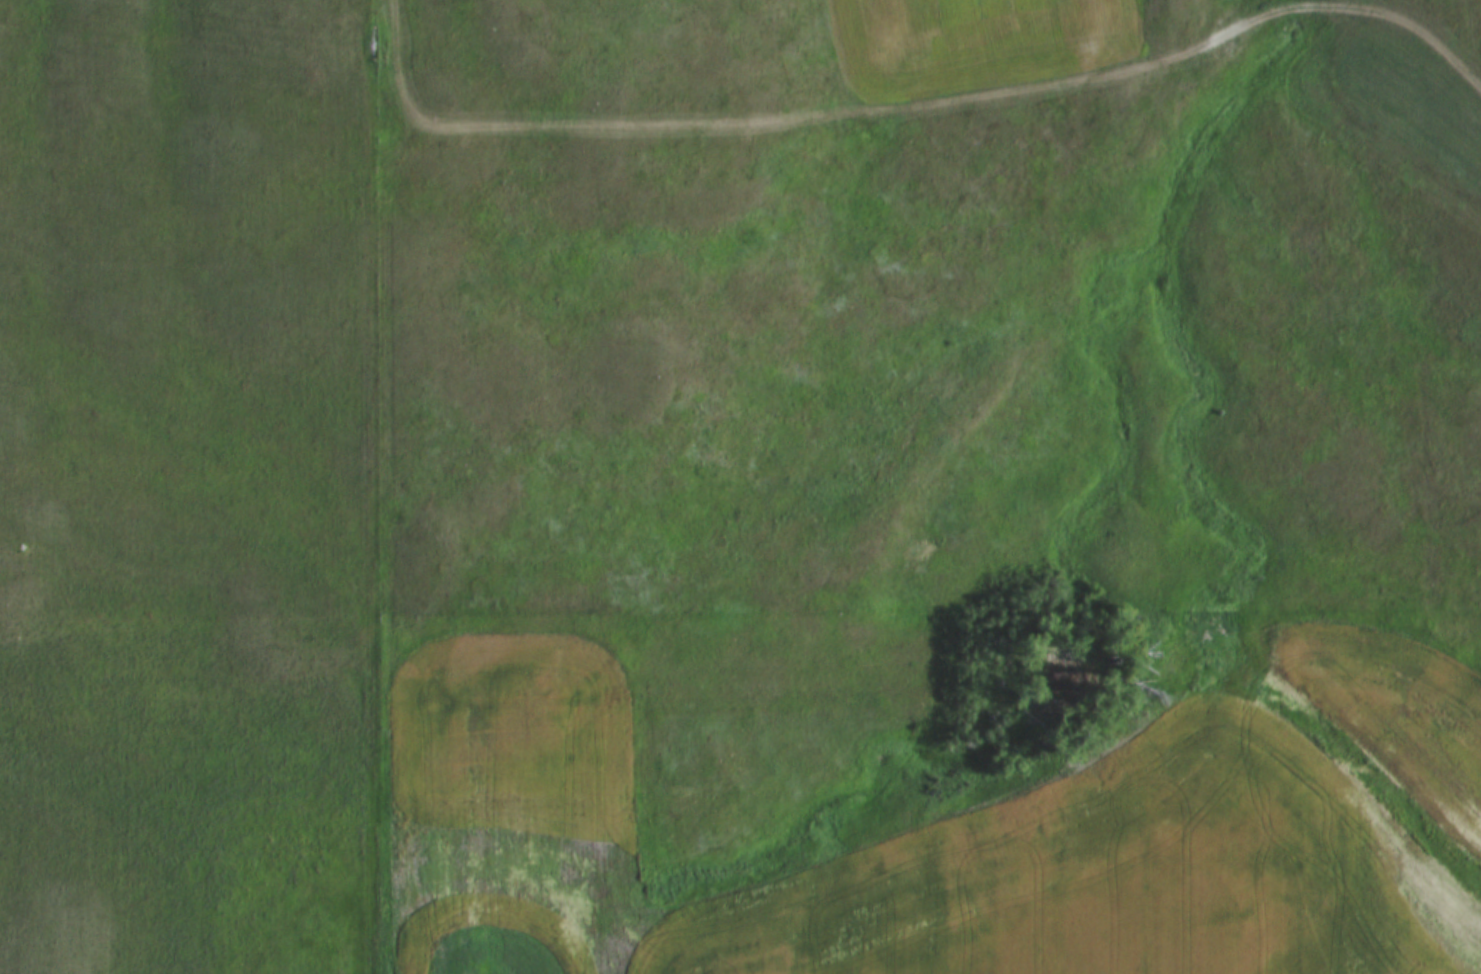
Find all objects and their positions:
road: (1474, 34)

